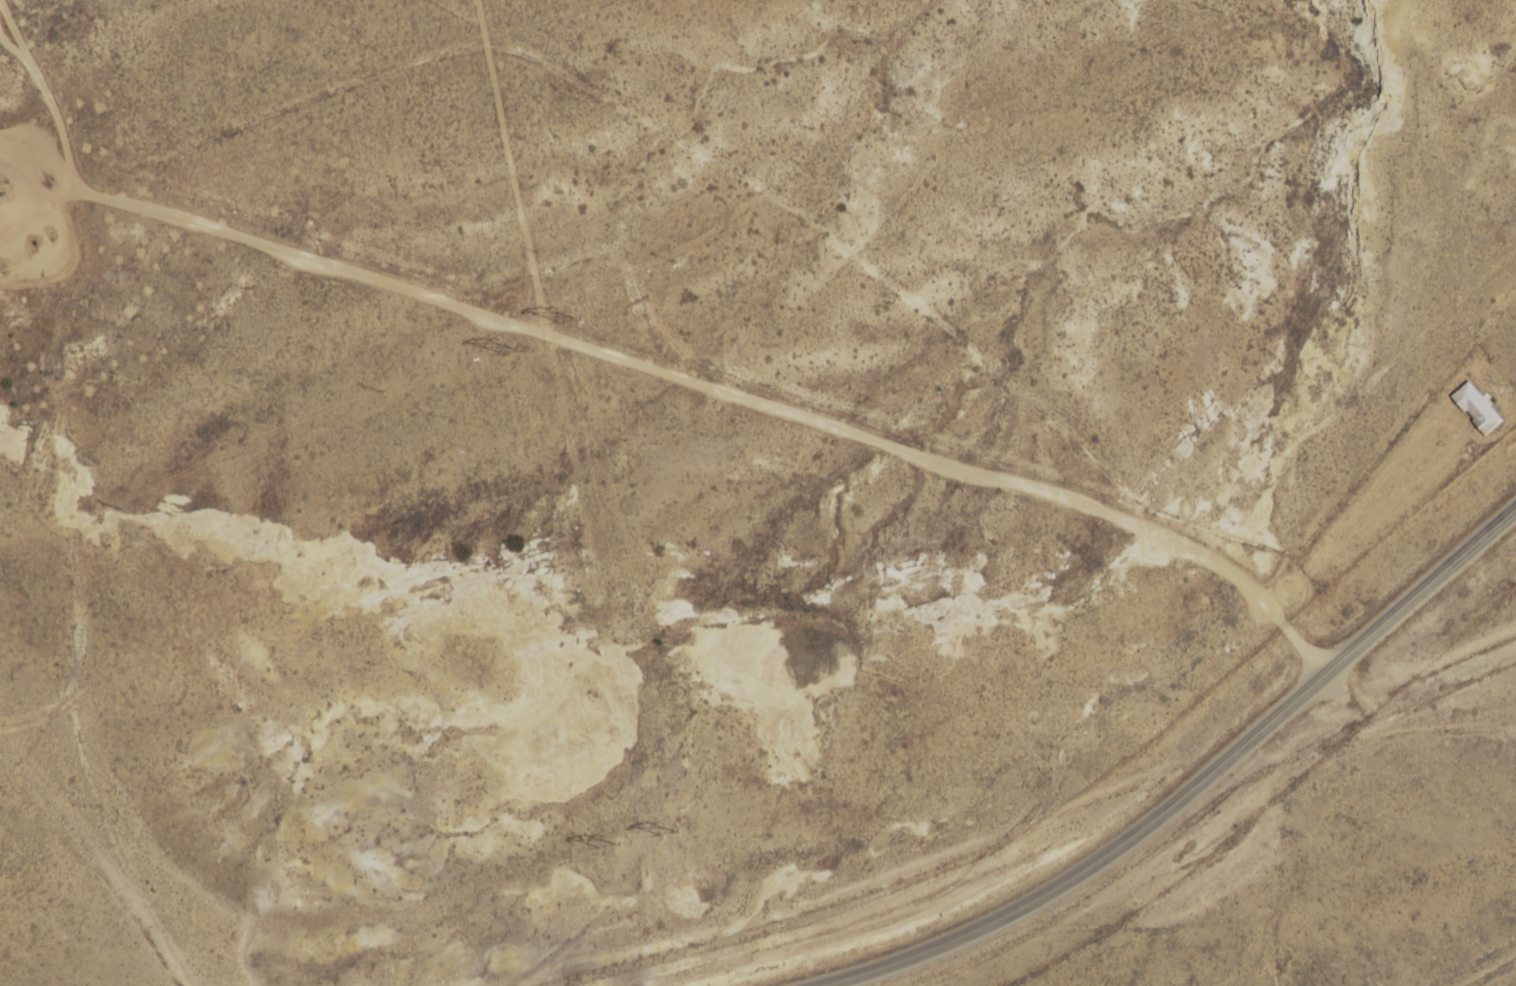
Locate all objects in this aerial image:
road: (414, 12)
road: (525, 295)
power tower: (571, 322)
power tower: (512, 352)
road: (913, 354)
road: (86, 637)
road: (1197, 787)
road: (1084, 824)
power tower: (667, 836)
power tower: (602, 848)

